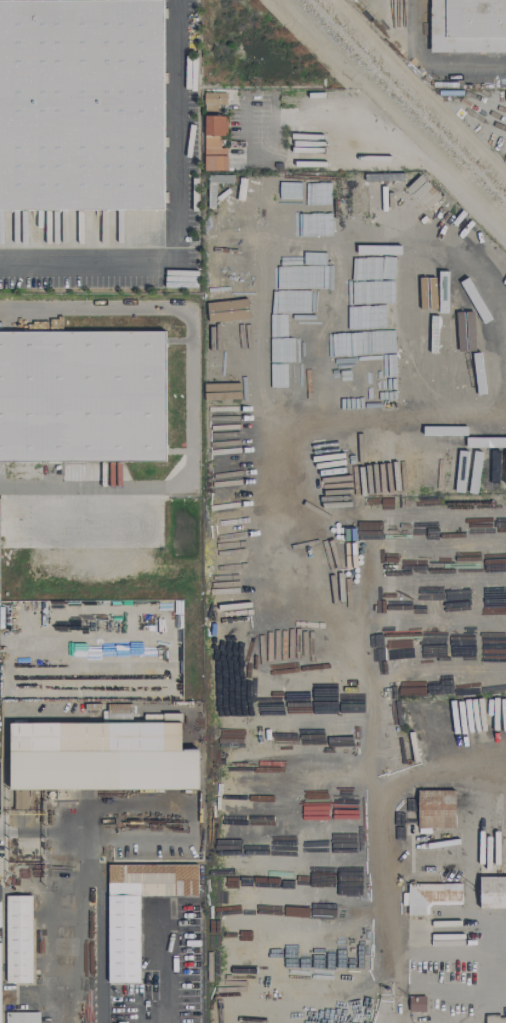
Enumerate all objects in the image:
building: (468, 25)
road: (433, 66)
building: (213, 100)
building: (80, 104)
road: (394, 115)
building: (214, 142)
building: (422, 192)
road: (173, 221)
building: (227, 309)
building: (242, 341)
building: (476, 373)
building: (221, 391)
building: (82, 394)
road: (191, 396)
road: (490, 428)
building: (476, 440)
building: (464, 473)
building: (102, 755)
building: (21, 800)
building: (436, 808)
road: (388, 810)
road: (41, 830)
road: (81, 873)
building: (492, 892)
building: (431, 896)
building: (137, 909)
building: (18, 938)
road: (103, 942)
building: (0, 945)
road: (449, 952)
road: (168, 964)
building: (243, 975)
road: (393, 988)
building: (417, 1003)
road: (337, 1007)
building: (22, 1017)
building: (495, 1019)

